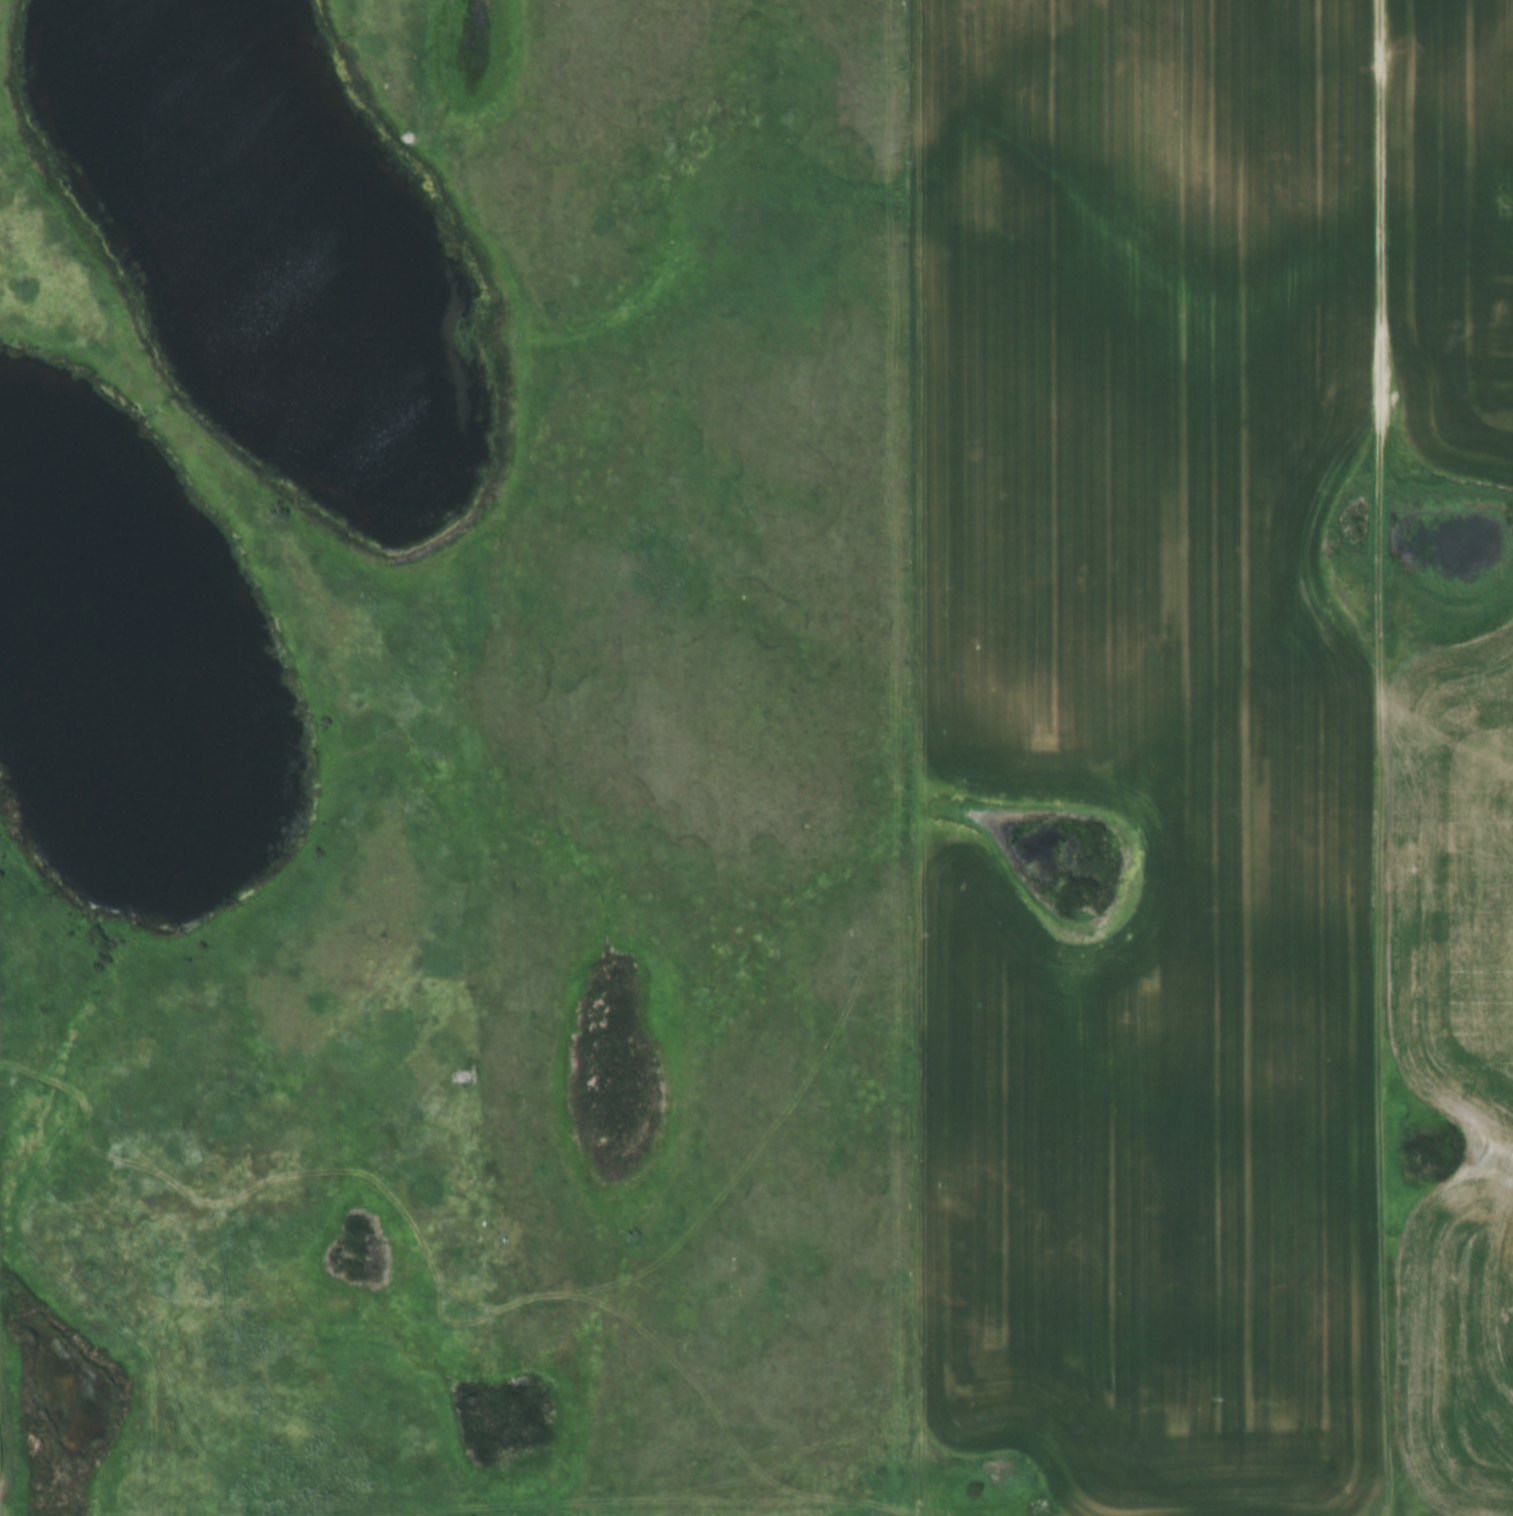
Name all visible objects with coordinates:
road: (1378, 758)

